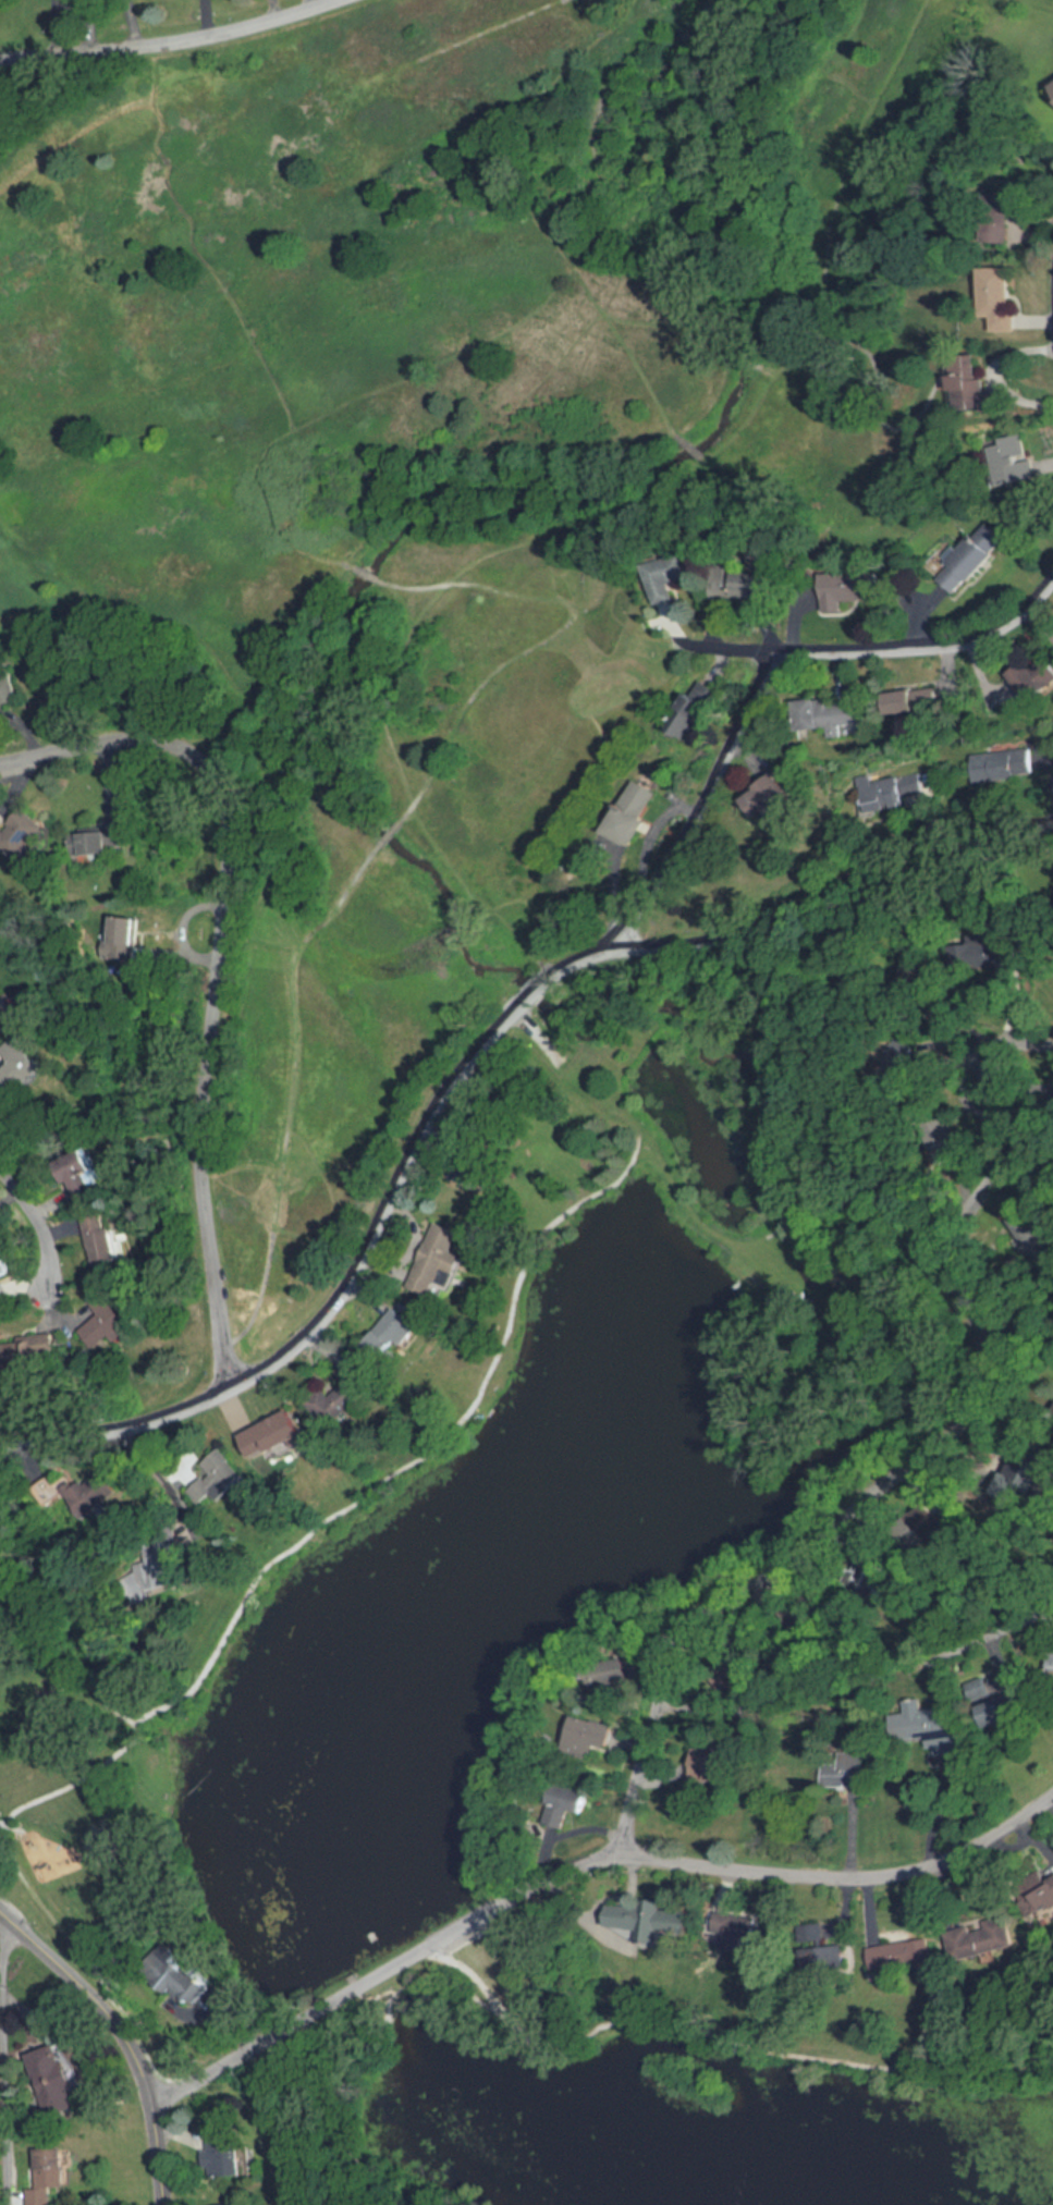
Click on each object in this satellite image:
road: (131, 22)
road: (89, 24)
road: (168, 41)
building: (1051, 78)
building: (997, 298)
building: (972, 387)
building: (1007, 460)
park: (388, 553)
building: (969, 558)
building: (671, 576)
building: (759, 583)
building: (852, 586)
road: (718, 644)
road: (770, 662)
building: (8, 690)
building: (916, 700)
building: (697, 709)
building: (835, 714)
building: (1001, 764)
building: (773, 800)
building: (629, 812)
building: (22, 836)
building: (95, 844)
building: (123, 934)
road: (217, 965)
building: (7, 1012)
road: (464, 1062)
building: (20, 1068)
road: (994, 1165)
building: (84, 1177)
road: (42, 1214)
building: (106, 1244)
building: (438, 1263)
building: (5, 1265)
road: (1023, 1321)
building: (111, 1322)
building: (395, 1332)
building: (40, 1350)
building: (336, 1401)
building: (273, 1438)
road: (770, 1572)
road: (1007, 1624)
building: (1001, 1712)
building: (929, 1729)
building: (730, 1763)
building: (843, 1775)
building: (572, 1799)
road: (935, 1808)
road: (585, 1865)
building: (982, 1940)
building: (901, 1955)
road: (126, 2033)
road: (0, 2063)
building: (223, 2156)

